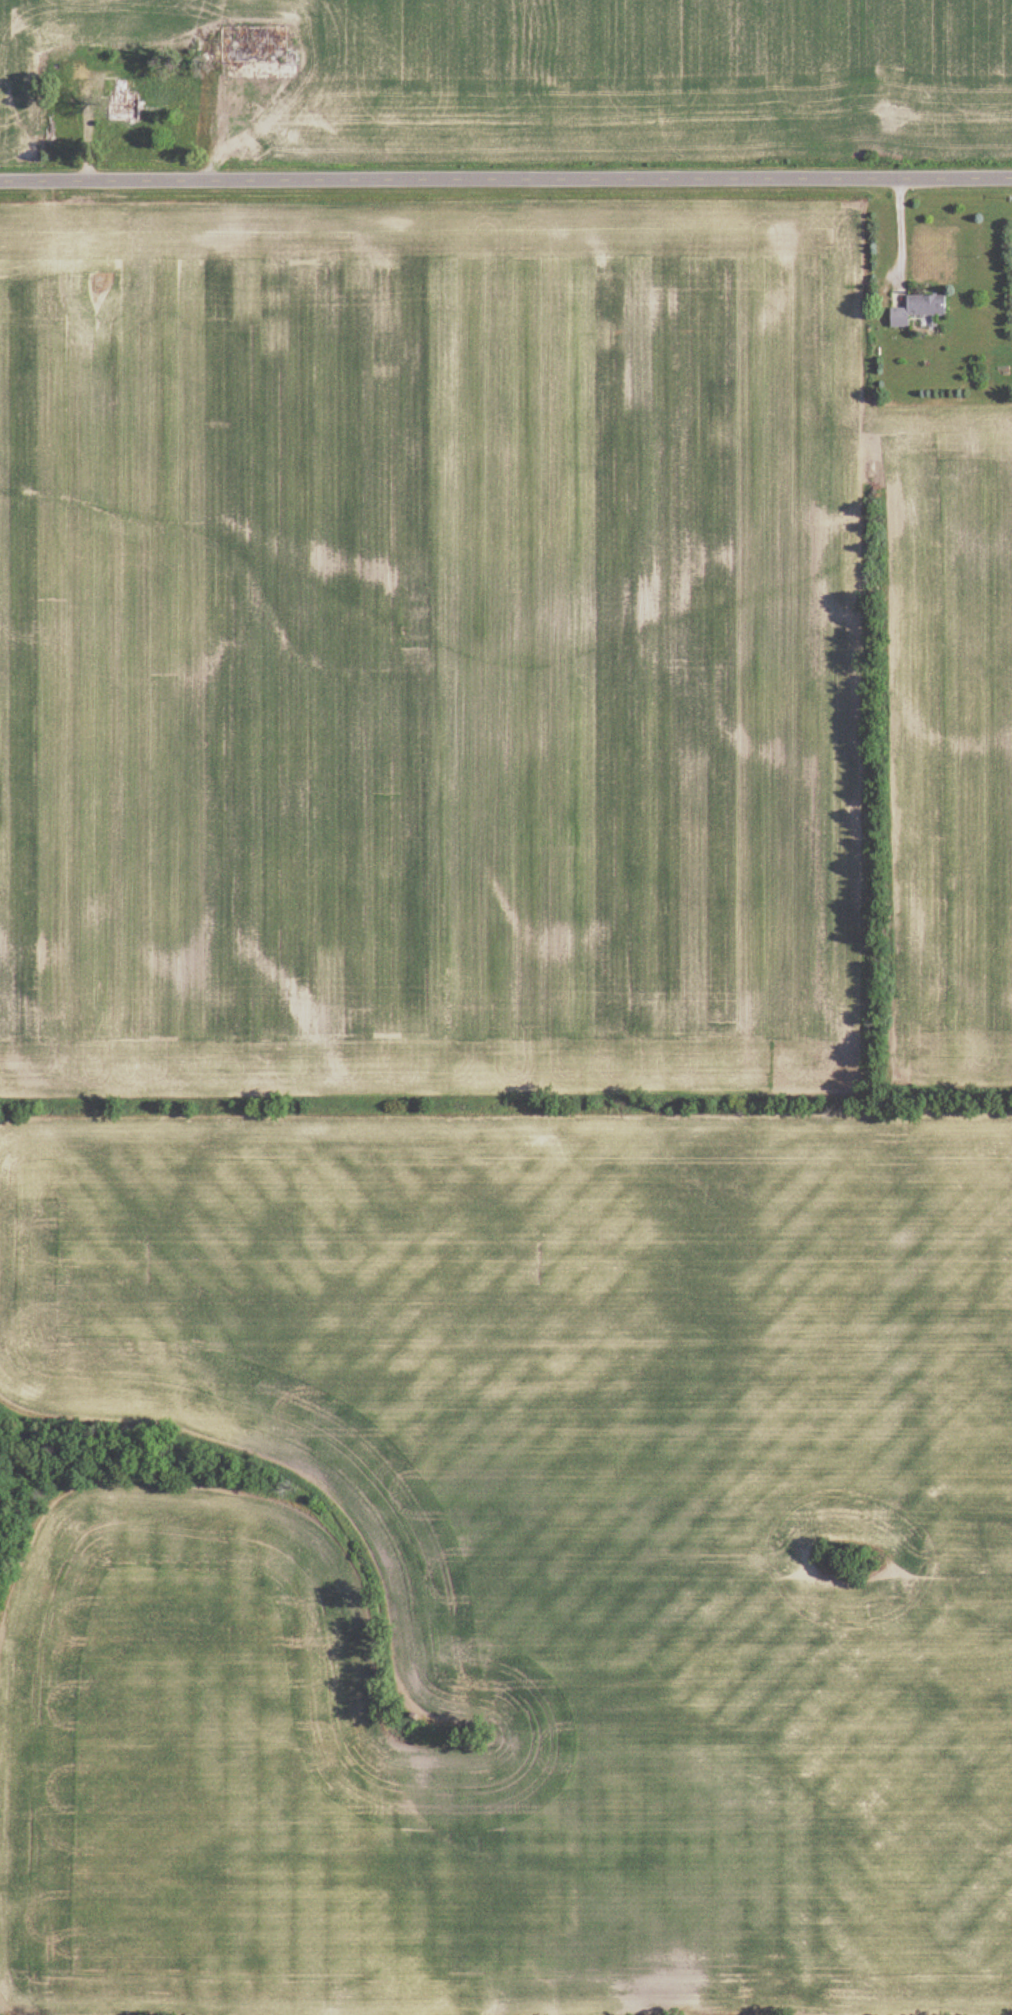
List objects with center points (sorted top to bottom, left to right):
building: (257, 45)
building: (81, 71)
building: (127, 103)
road: (505, 176)
road: (902, 231)
building: (921, 309)

